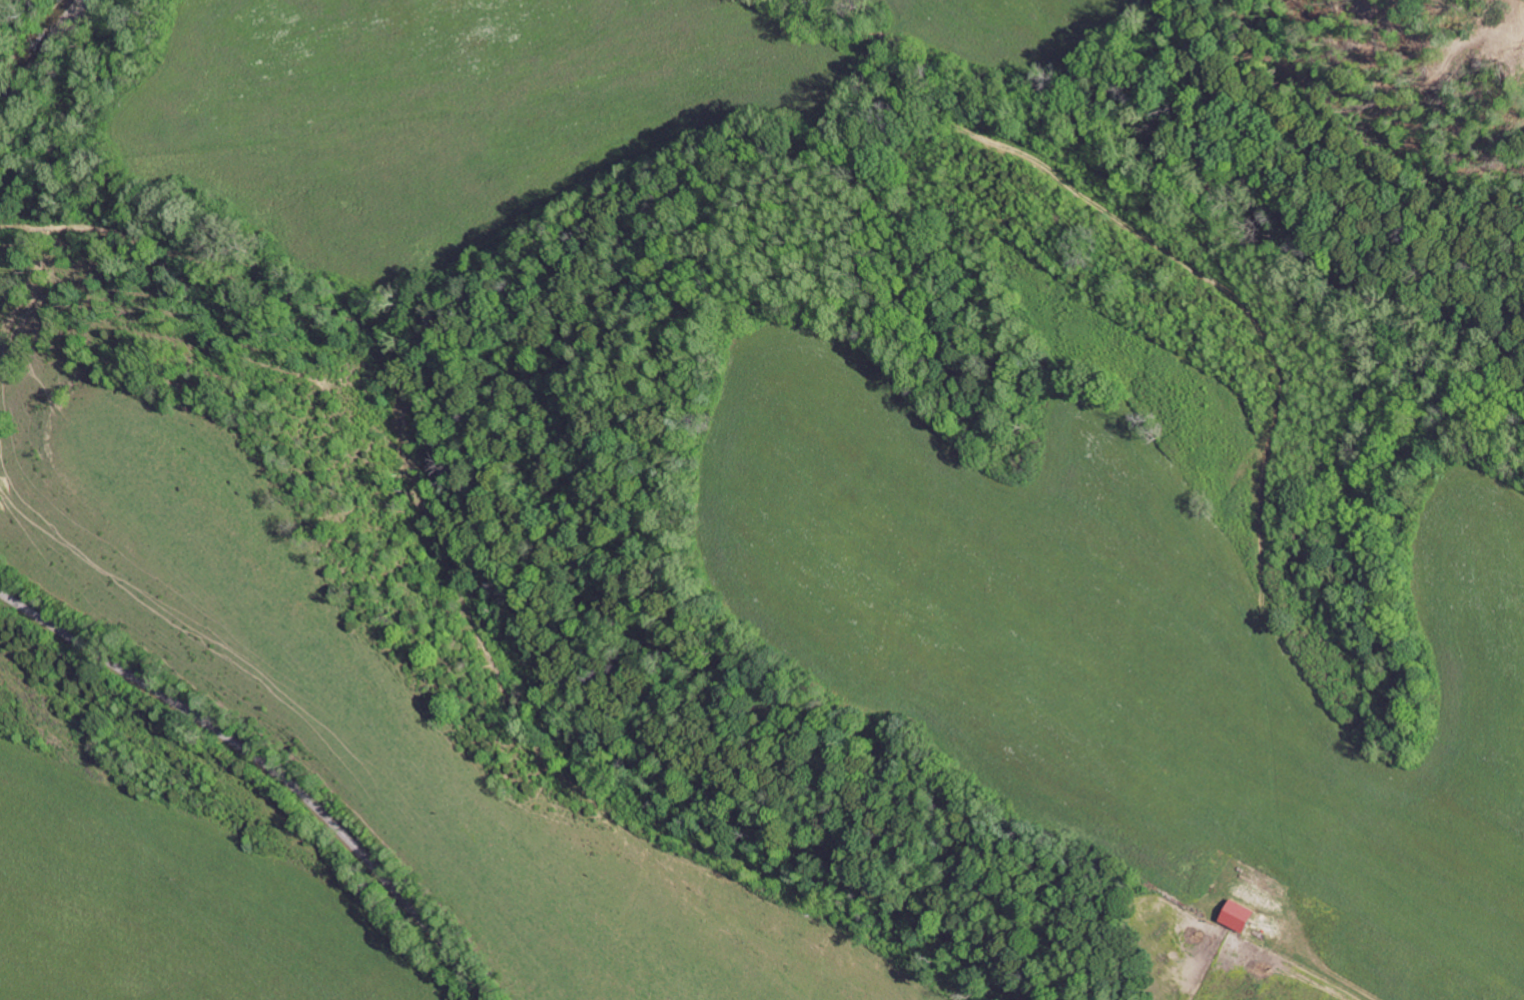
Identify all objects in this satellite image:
road: (266, 767)
building: (1237, 916)

